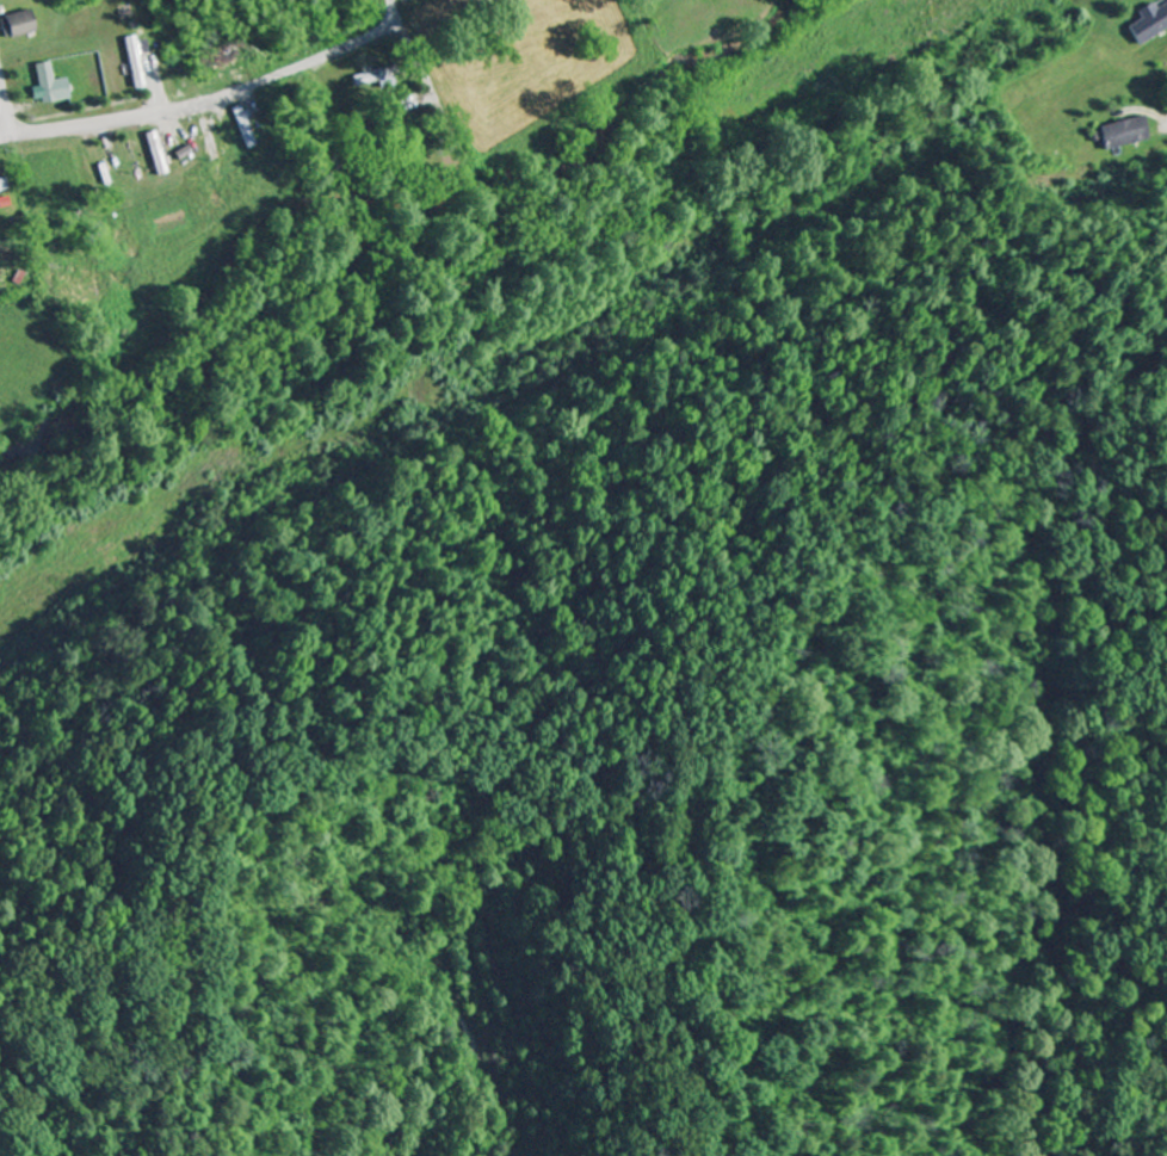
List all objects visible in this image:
road: (194, 19)
building: (18, 23)
building: (1151, 23)
road: (413, 49)
building: (134, 62)
building: (369, 79)
building: (49, 85)
road: (2, 103)
building: (1131, 132)
building: (155, 153)
building: (1, 184)

